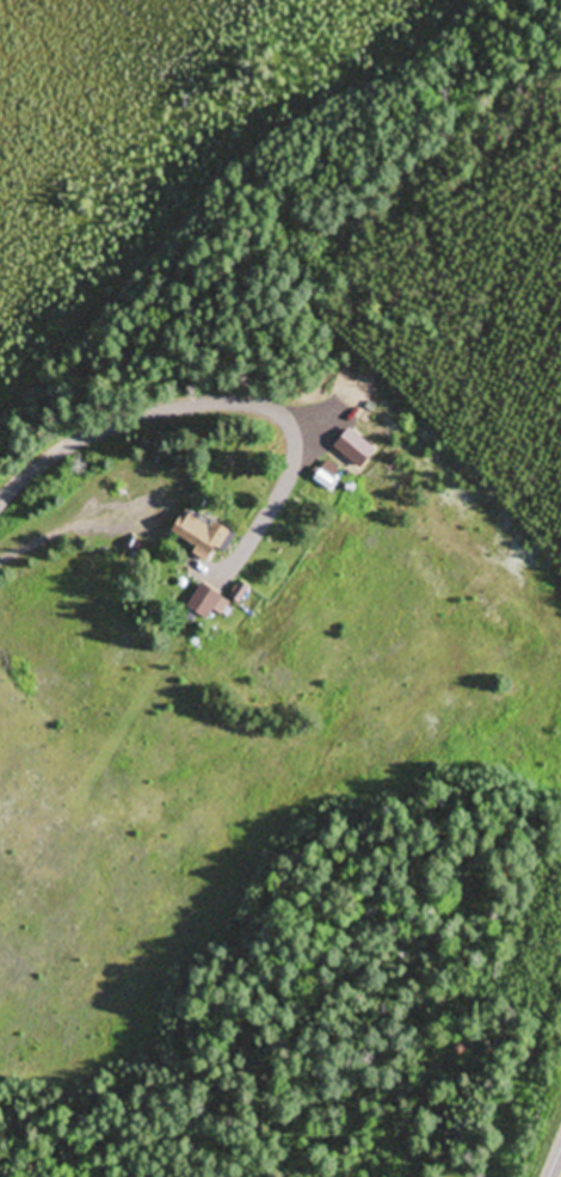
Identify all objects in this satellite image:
road: (125, 417)
building: (206, 535)
building: (209, 603)

